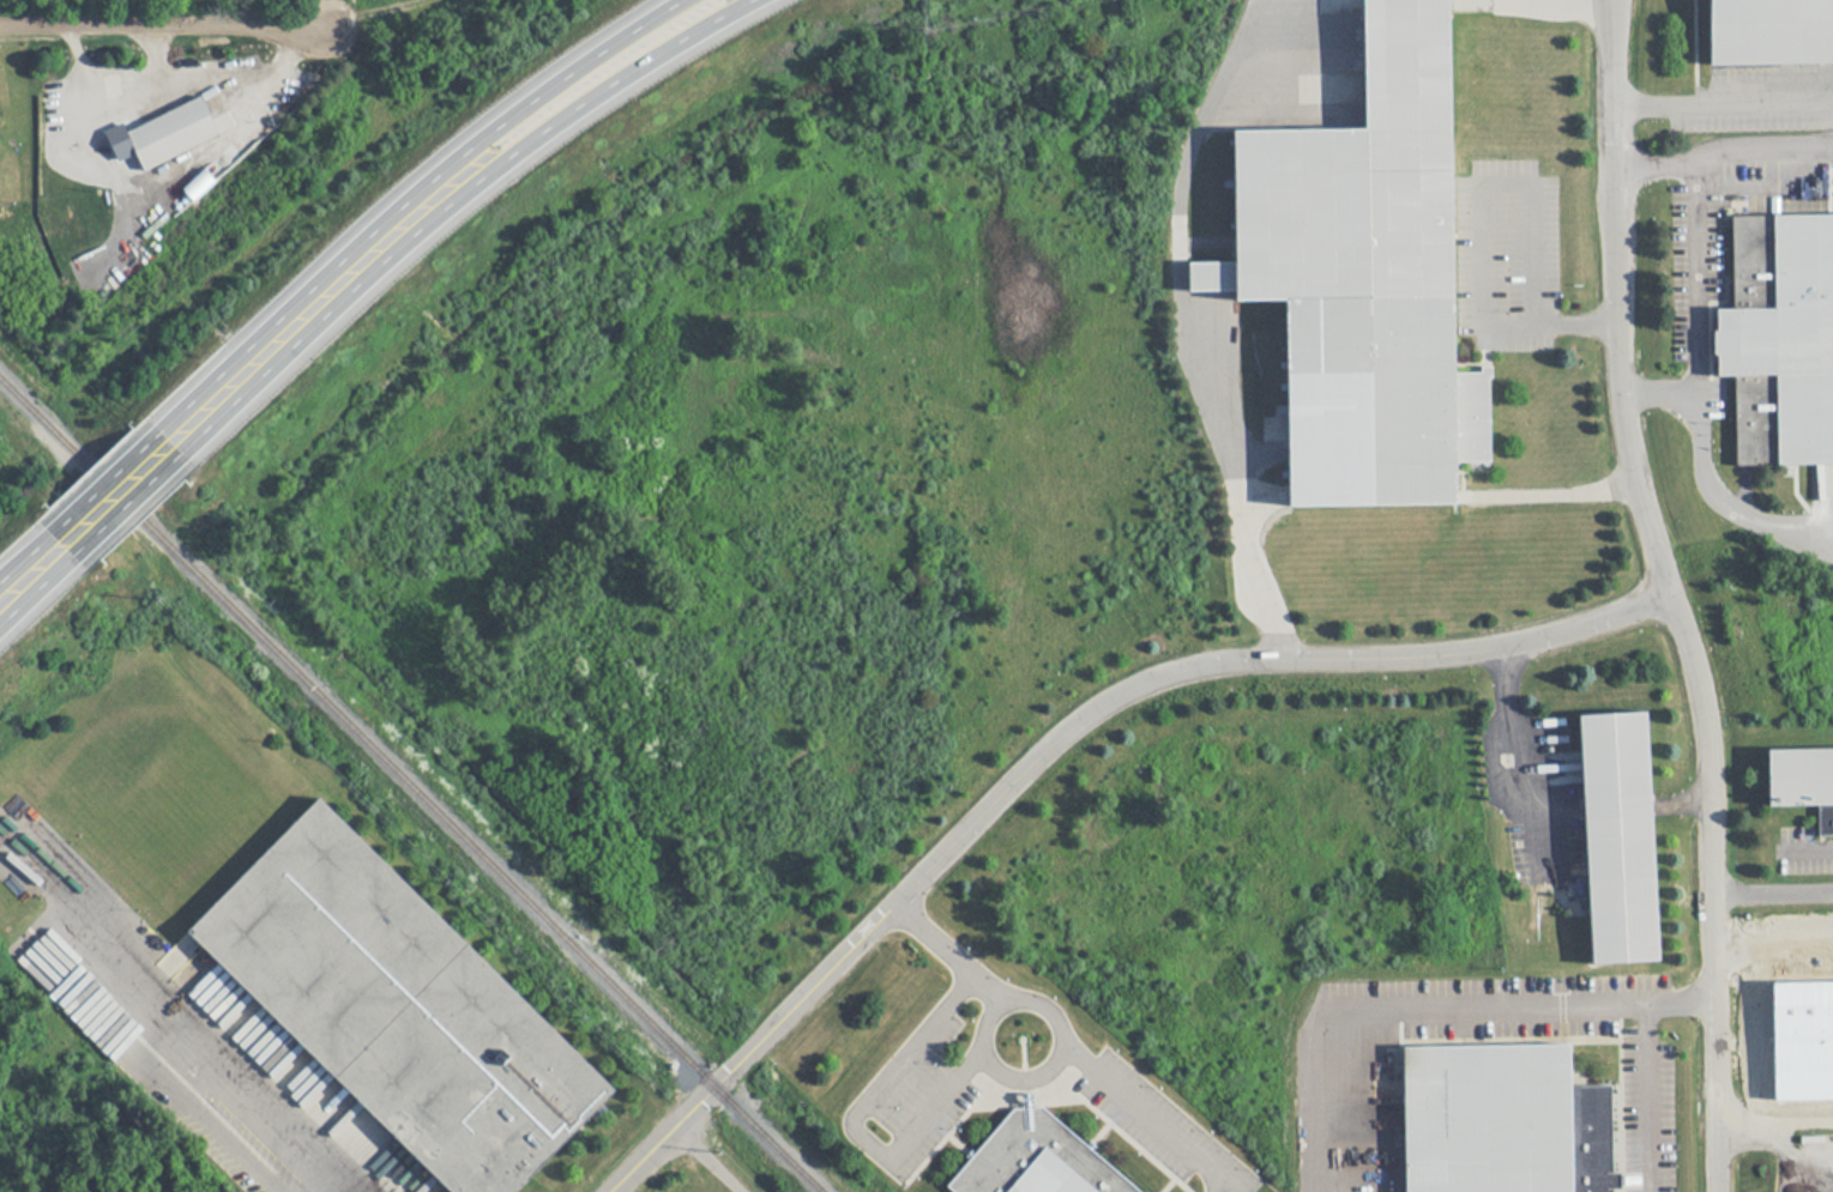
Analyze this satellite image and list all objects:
road: (1567, 1)
road: (161, 29)
building: (1769, 32)
road: (1719, 107)
building: (80, 128)
building: (174, 133)
road: (1762, 144)
road: (410, 195)
road: (456, 205)
road: (1533, 226)
road: (1483, 253)
road: (1696, 270)
building: (1367, 276)
road: (1178, 321)
road: (1518, 325)
road: (1582, 325)
road: (1555, 326)
building: (1786, 339)
road: (105, 480)
road: (1556, 495)
road: (1724, 496)
road: (129, 506)
road: (23, 555)
road: (37, 593)
road: (1665, 594)
road: (1511, 731)
road: (1055, 732)
building: (1798, 775)
railway: (411, 783)
building: (1623, 839)
road: (1810, 851)
road: (1772, 896)
road: (948, 951)
road: (1427, 996)
building: (404, 1006)
road: (193, 1061)
road: (1003, 1067)
road: (1648, 1093)
road: (1147, 1113)
building: (1506, 1119)
road: (1773, 1120)
road: (854, 1126)
road: (710, 1158)
building: (1055, 1175)

